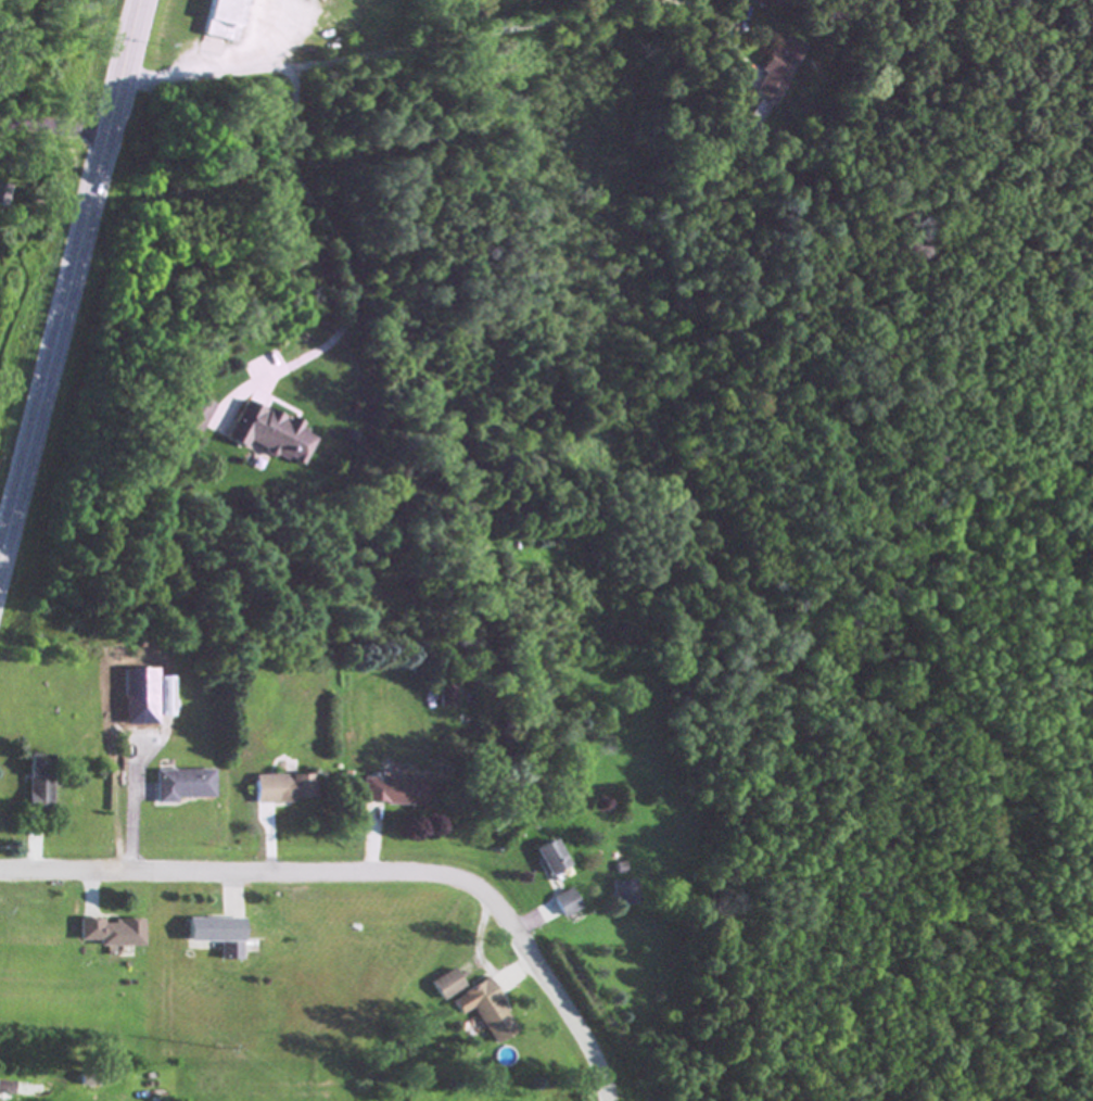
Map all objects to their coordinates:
building: (752, 1)
building: (223, 20)
road: (449, 40)
building: (775, 71)
road: (54, 124)
building: (3, 194)
road: (341, 233)
road: (69, 279)
building: (196, 414)
building: (270, 434)
building: (446, 695)
building: (148, 706)
building: (37, 784)
building: (181, 785)
building: (282, 788)
building: (394, 792)
building: (548, 857)
road: (368, 871)
building: (623, 893)
building: (564, 902)
building: (110, 933)
building: (217, 936)
building: (446, 985)
building: (485, 1011)
building: (89, 1079)

